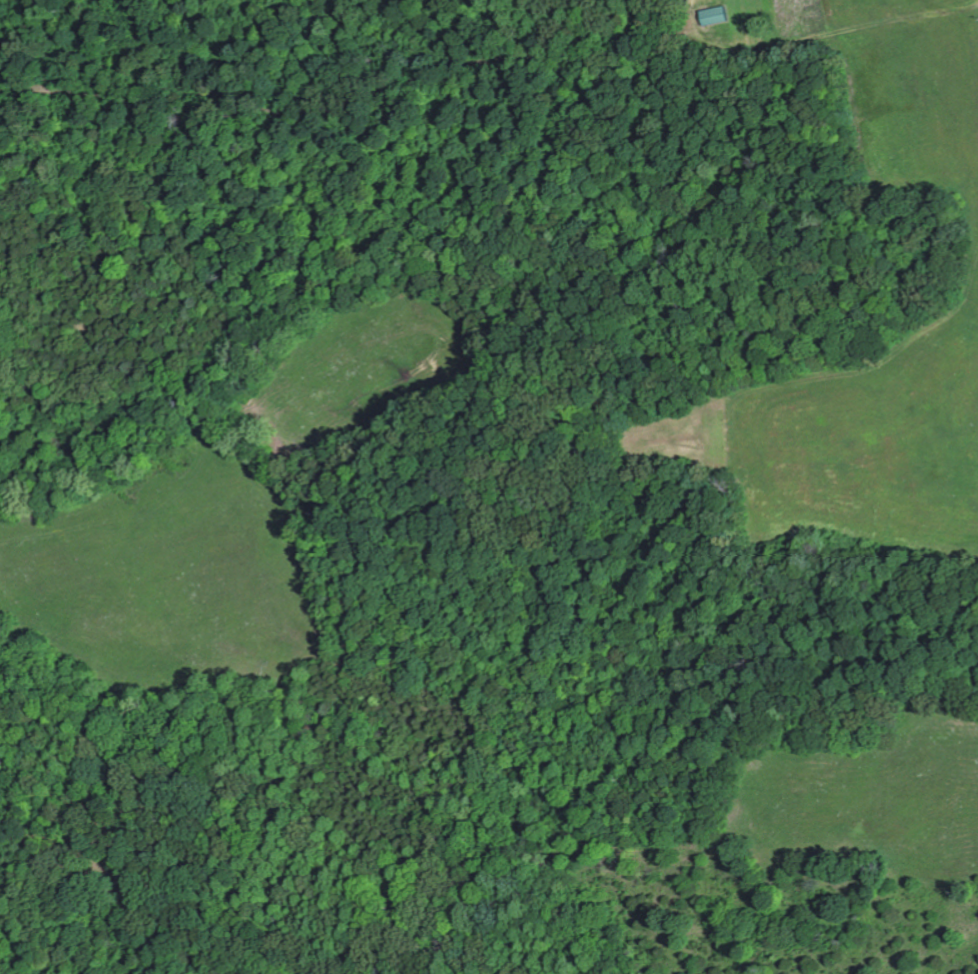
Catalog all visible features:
building: (710, 16)
road: (835, 32)

